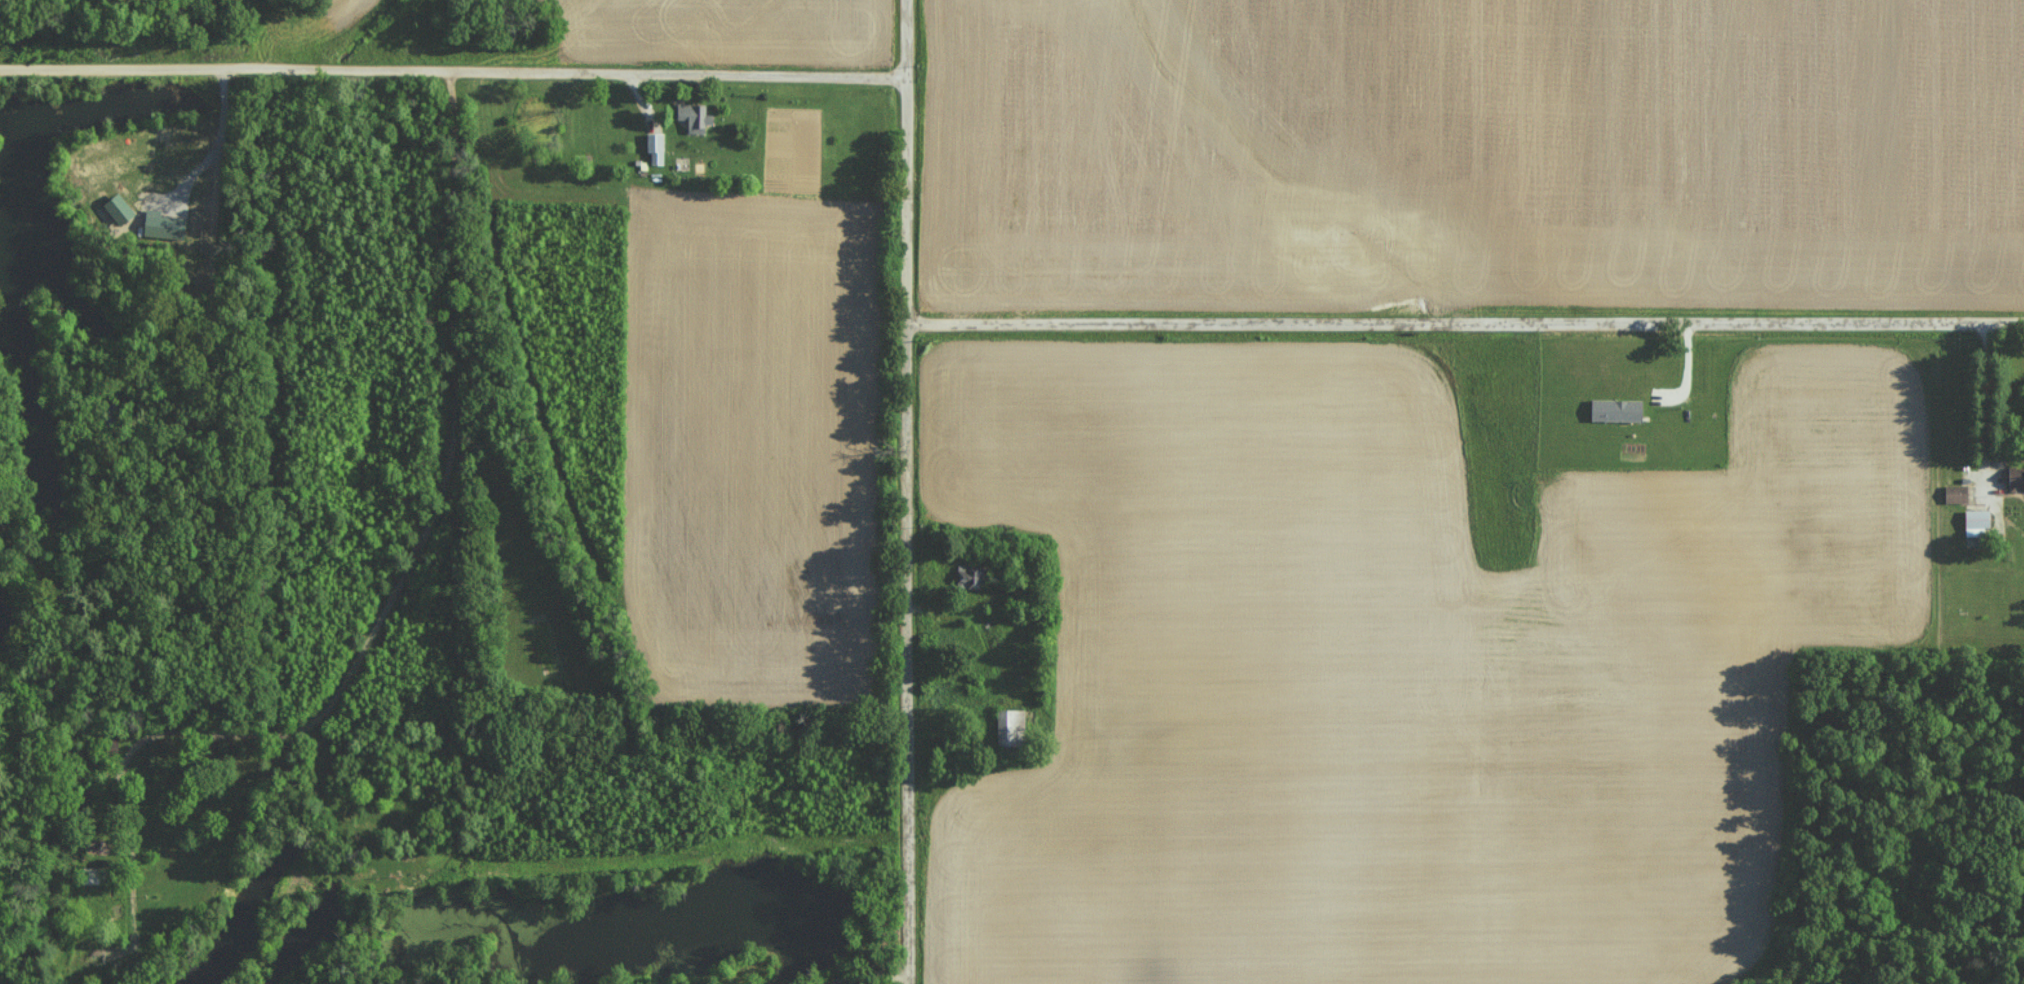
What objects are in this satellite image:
road: (451, 79)
building: (691, 117)
building: (653, 148)
building: (114, 209)
building: (161, 226)
road: (1464, 326)
road: (1982, 405)
building: (1613, 410)
building: (2015, 481)
road: (903, 491)
building: (1953, 494)
building: (1975, 521)
building: (966, 577)
building: (1007, 728)

